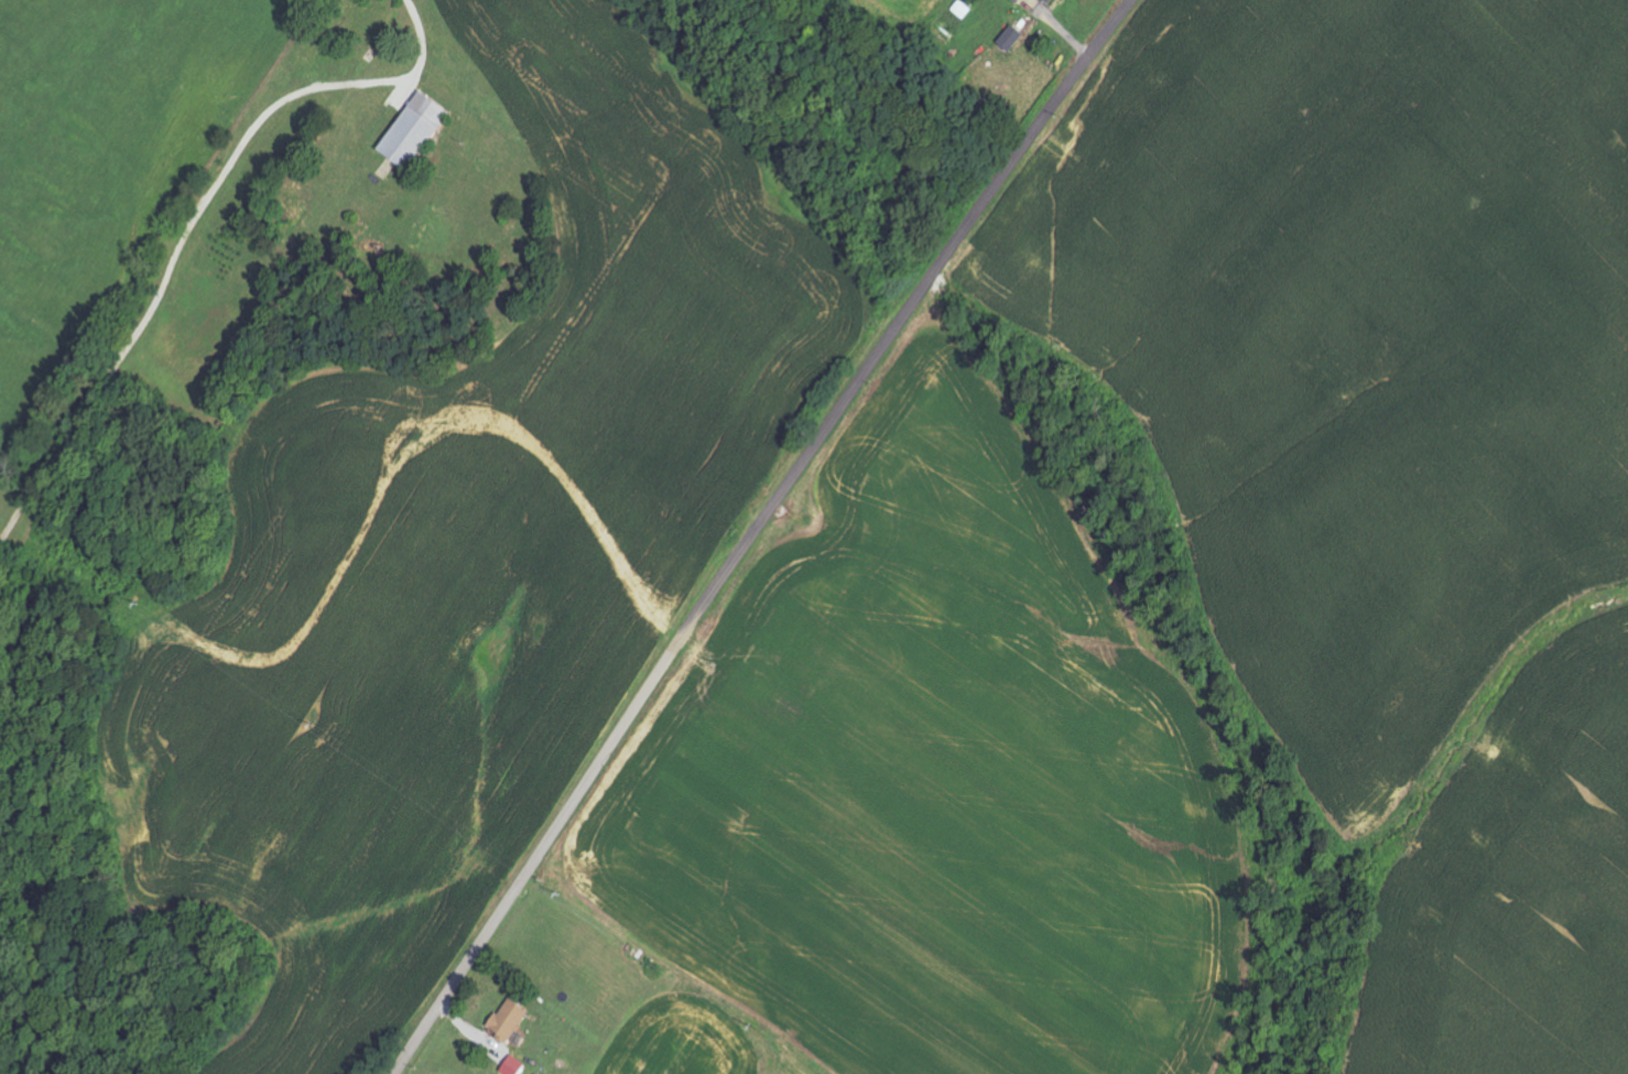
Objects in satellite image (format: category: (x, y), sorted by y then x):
building: (1019, 1)
building: (1048, 1)
building: (965, 8)
building: (1012, 37)
building: (417, 130)
road: (192, 225)
road: (753, 531)
building: (510, 1020)
building: (514, 1066)

